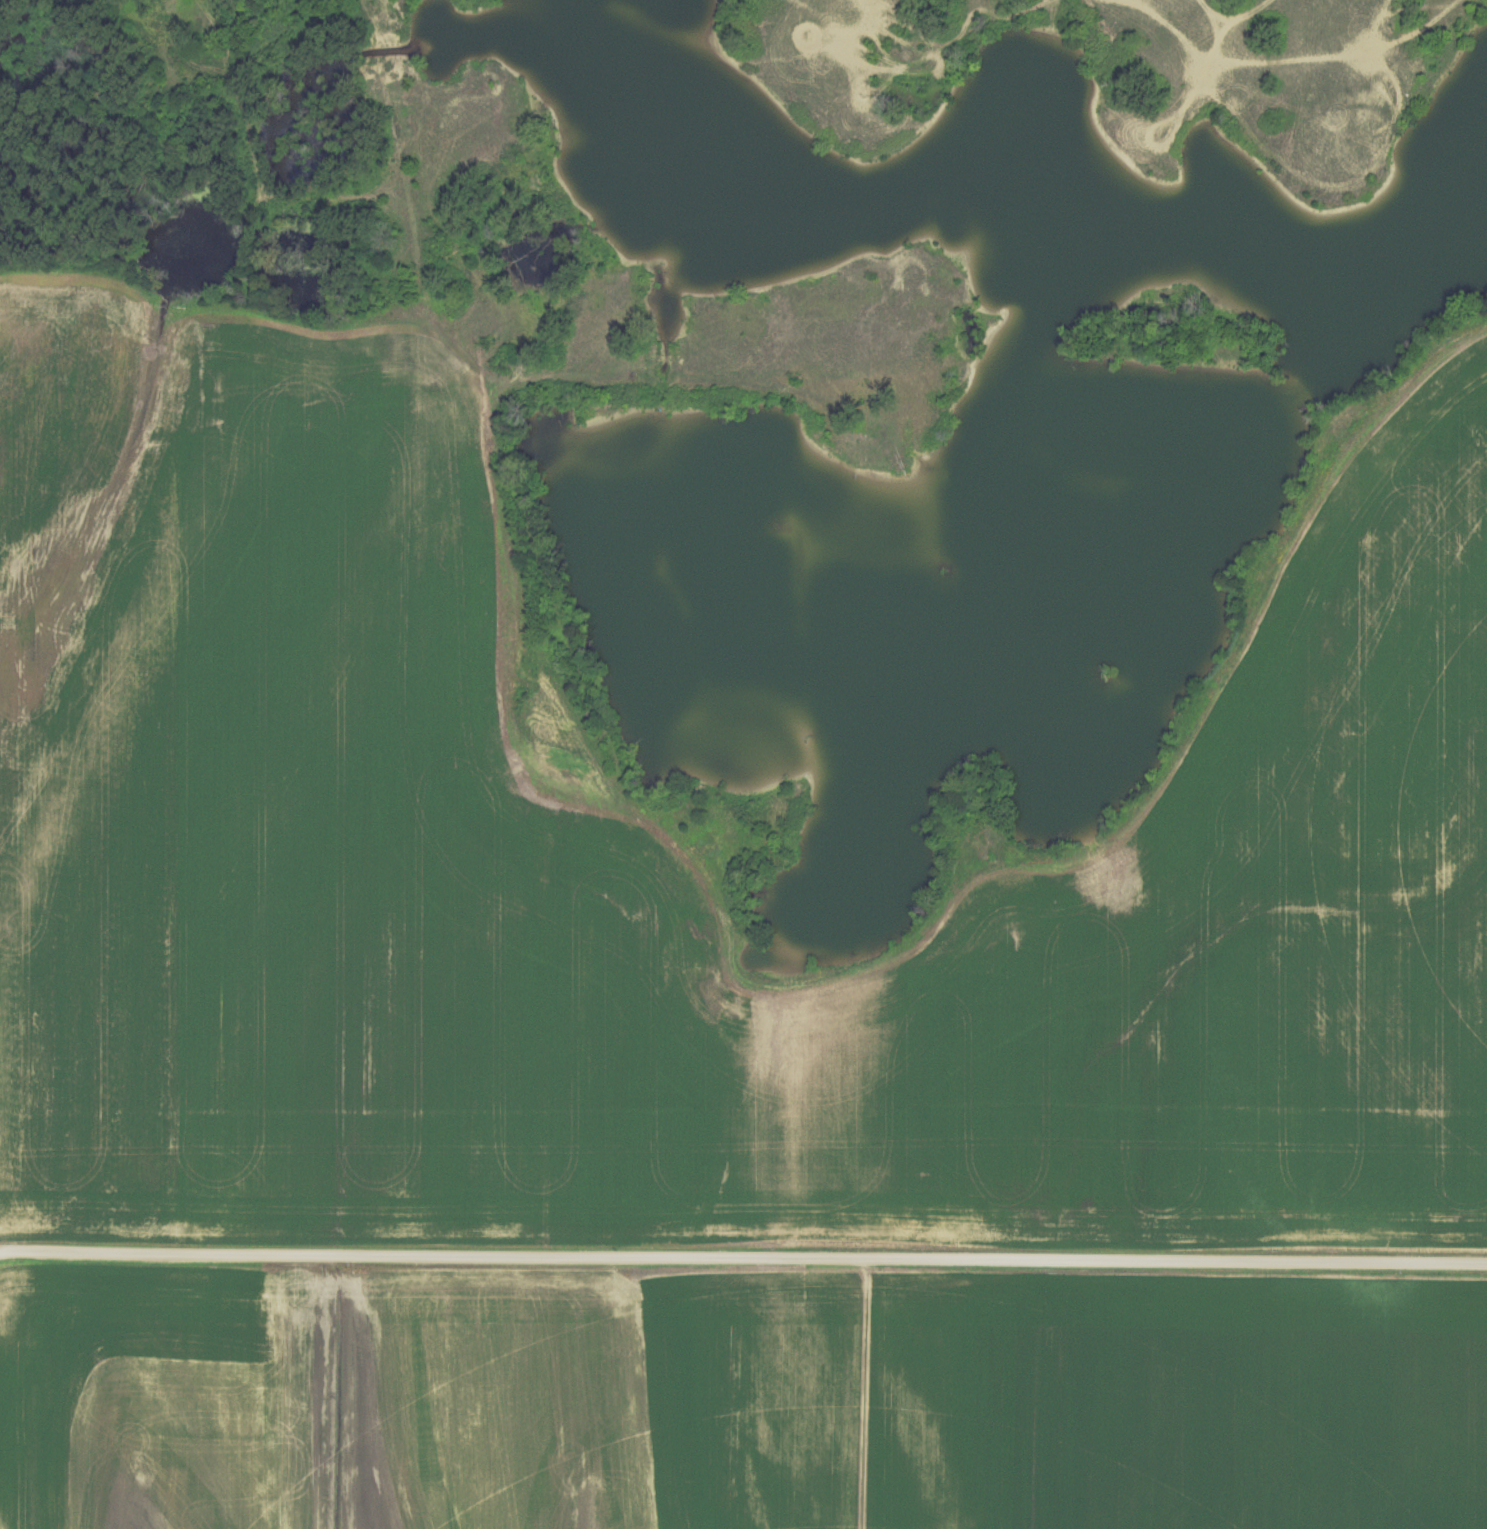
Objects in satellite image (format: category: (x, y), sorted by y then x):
road: (1085, 0)
road: (871, 1)
road: (361, 10)
road: (822, 16)
road: (1379, 26)
road: (893, 37)
road: (1191, 50)
road: (870, 72)
road: (259, 163)
road: (1321, 185)
road: (502, 379)
road: (19, 1253)
road: (763, 1259)

